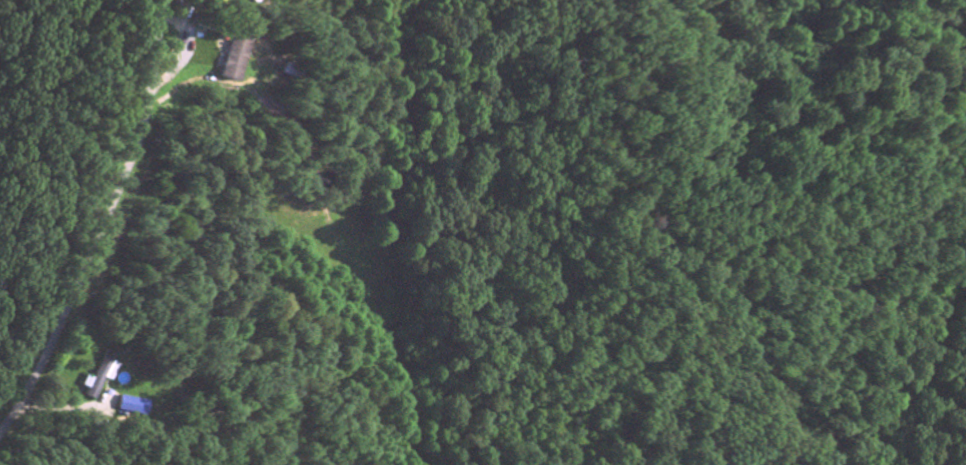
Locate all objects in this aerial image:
building: (232, 60)
road: (100, 221)
building: (97, 378)
building: (128, 408)

